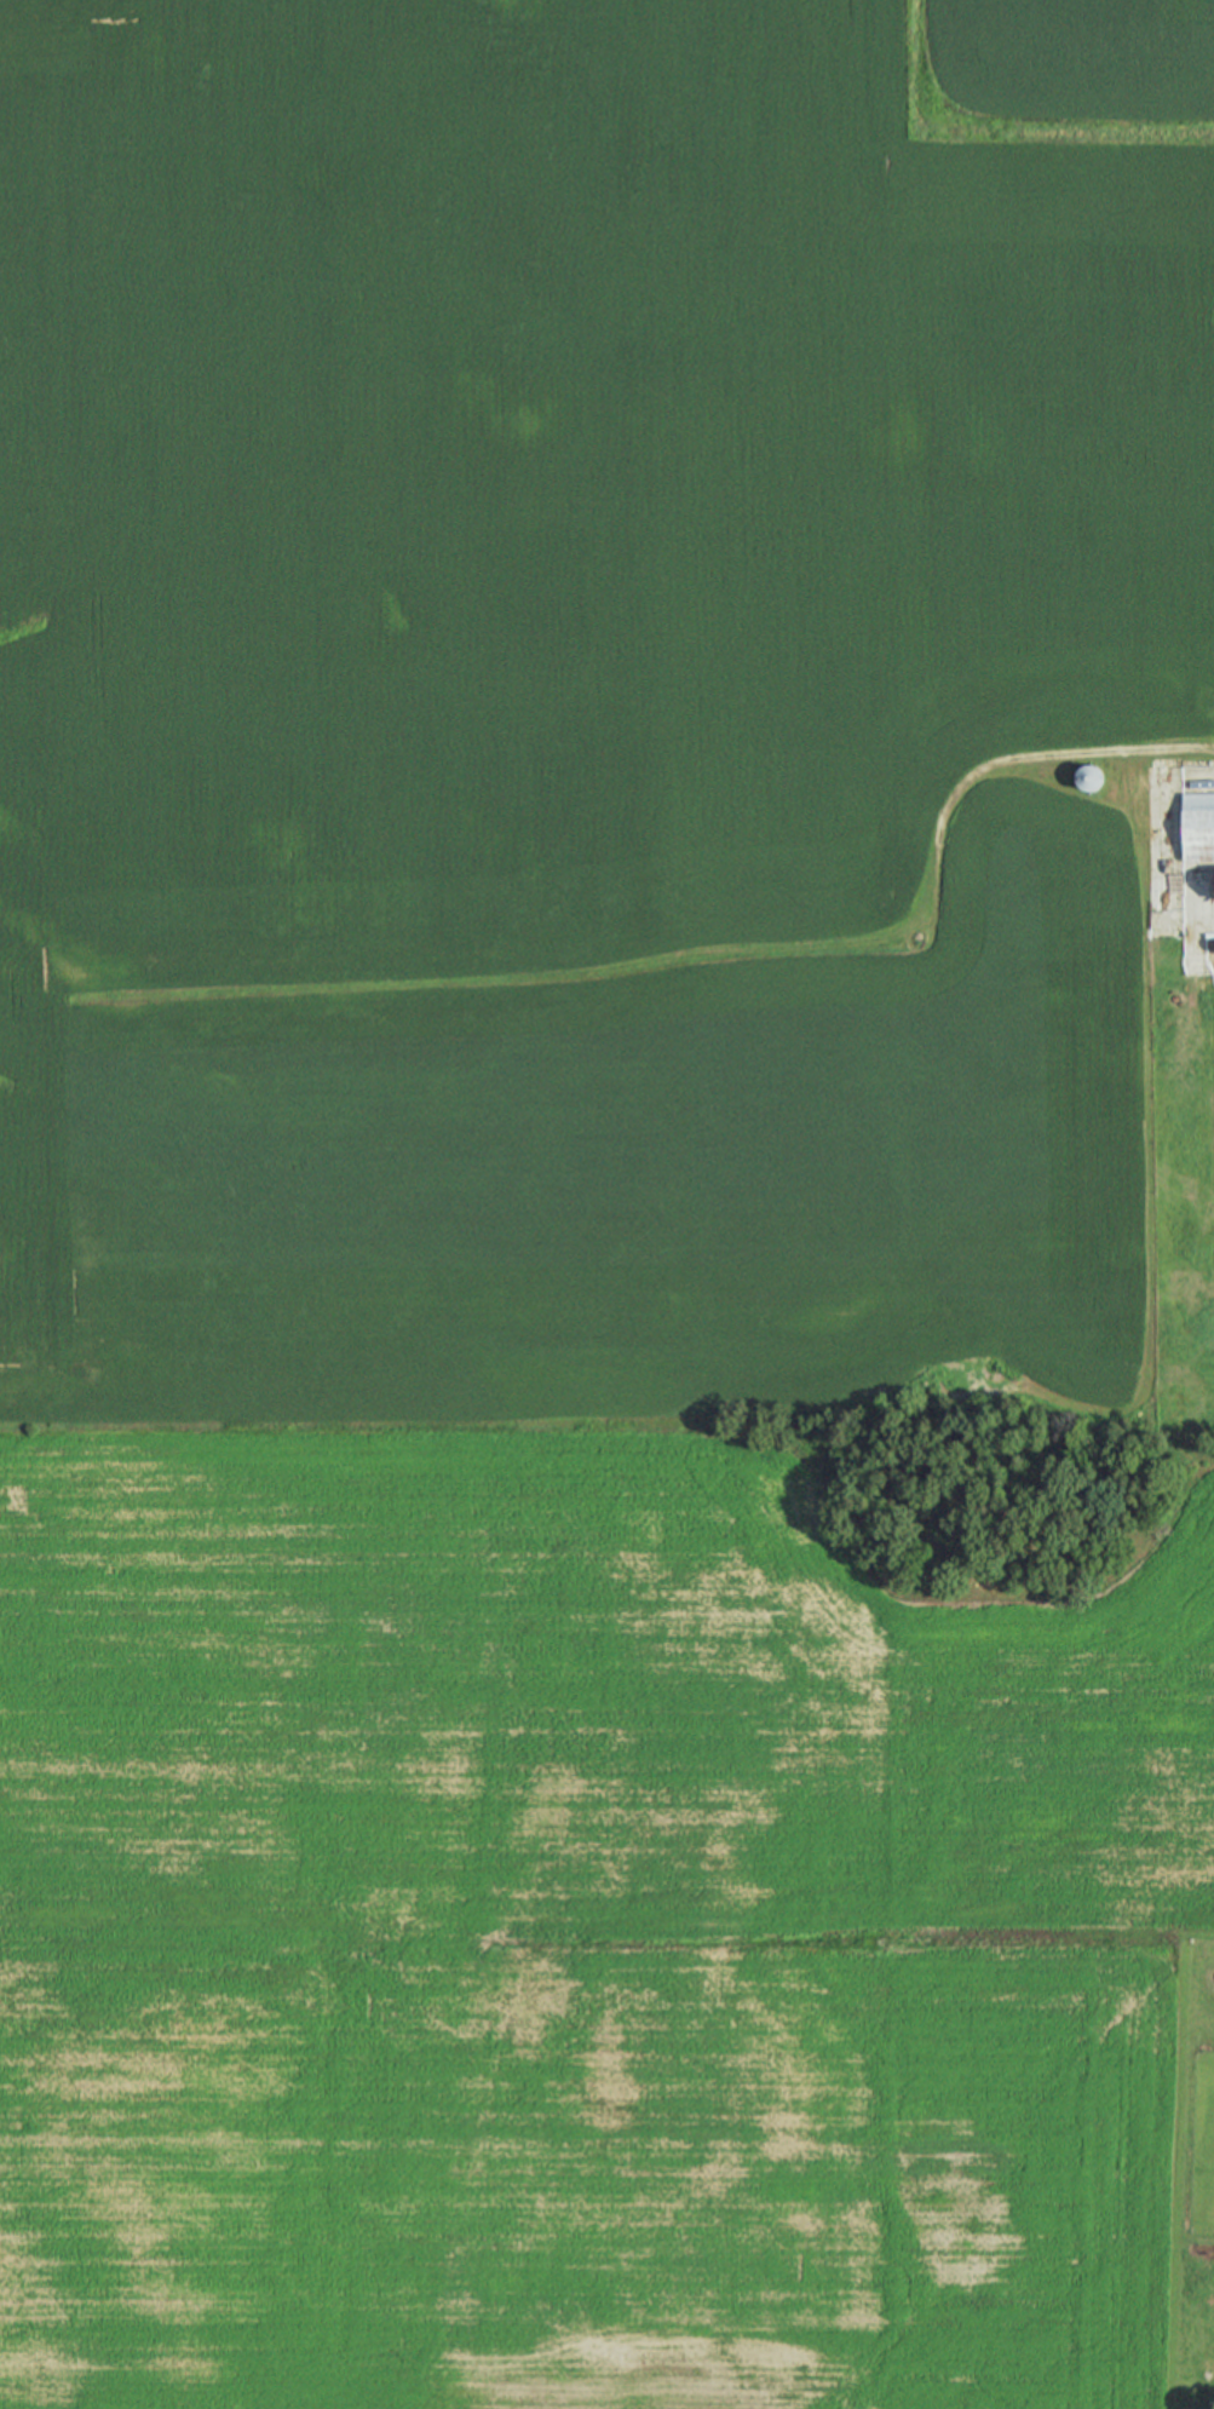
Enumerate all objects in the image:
building: (1084, 777)
building: (1197, 827)
road: (909, 926)
road: (1038, 1933)

